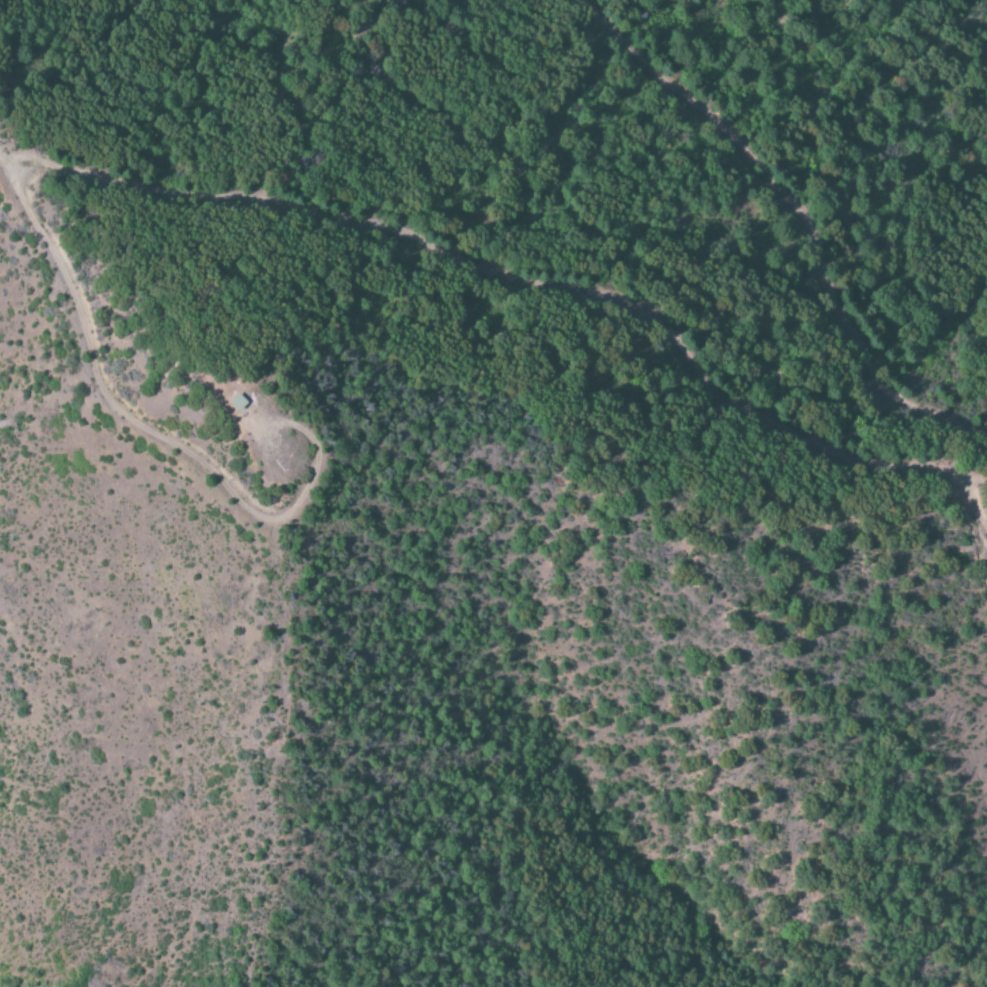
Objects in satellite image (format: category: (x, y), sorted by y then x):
road: (217, 194)
road: (799, 216)
building: (233, 399)

